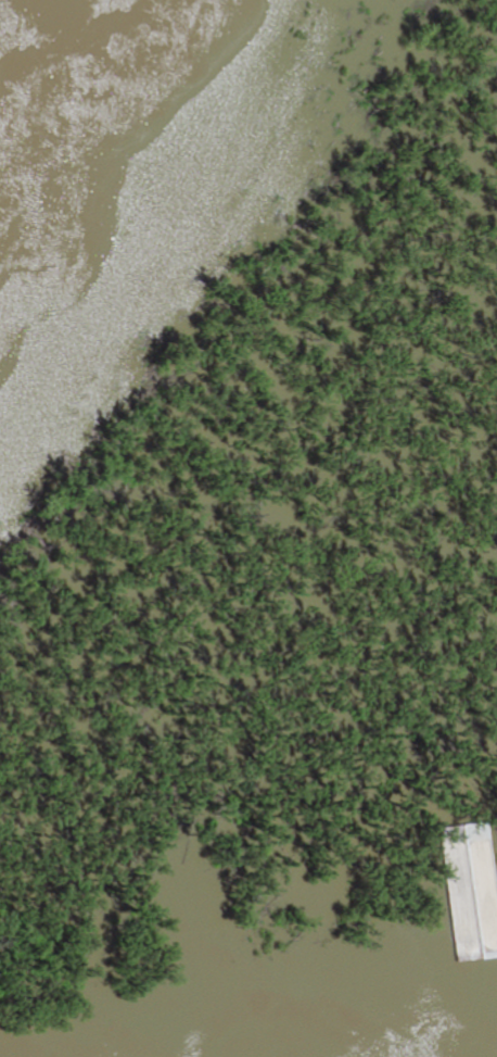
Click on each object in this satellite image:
river: (433, 1037)

